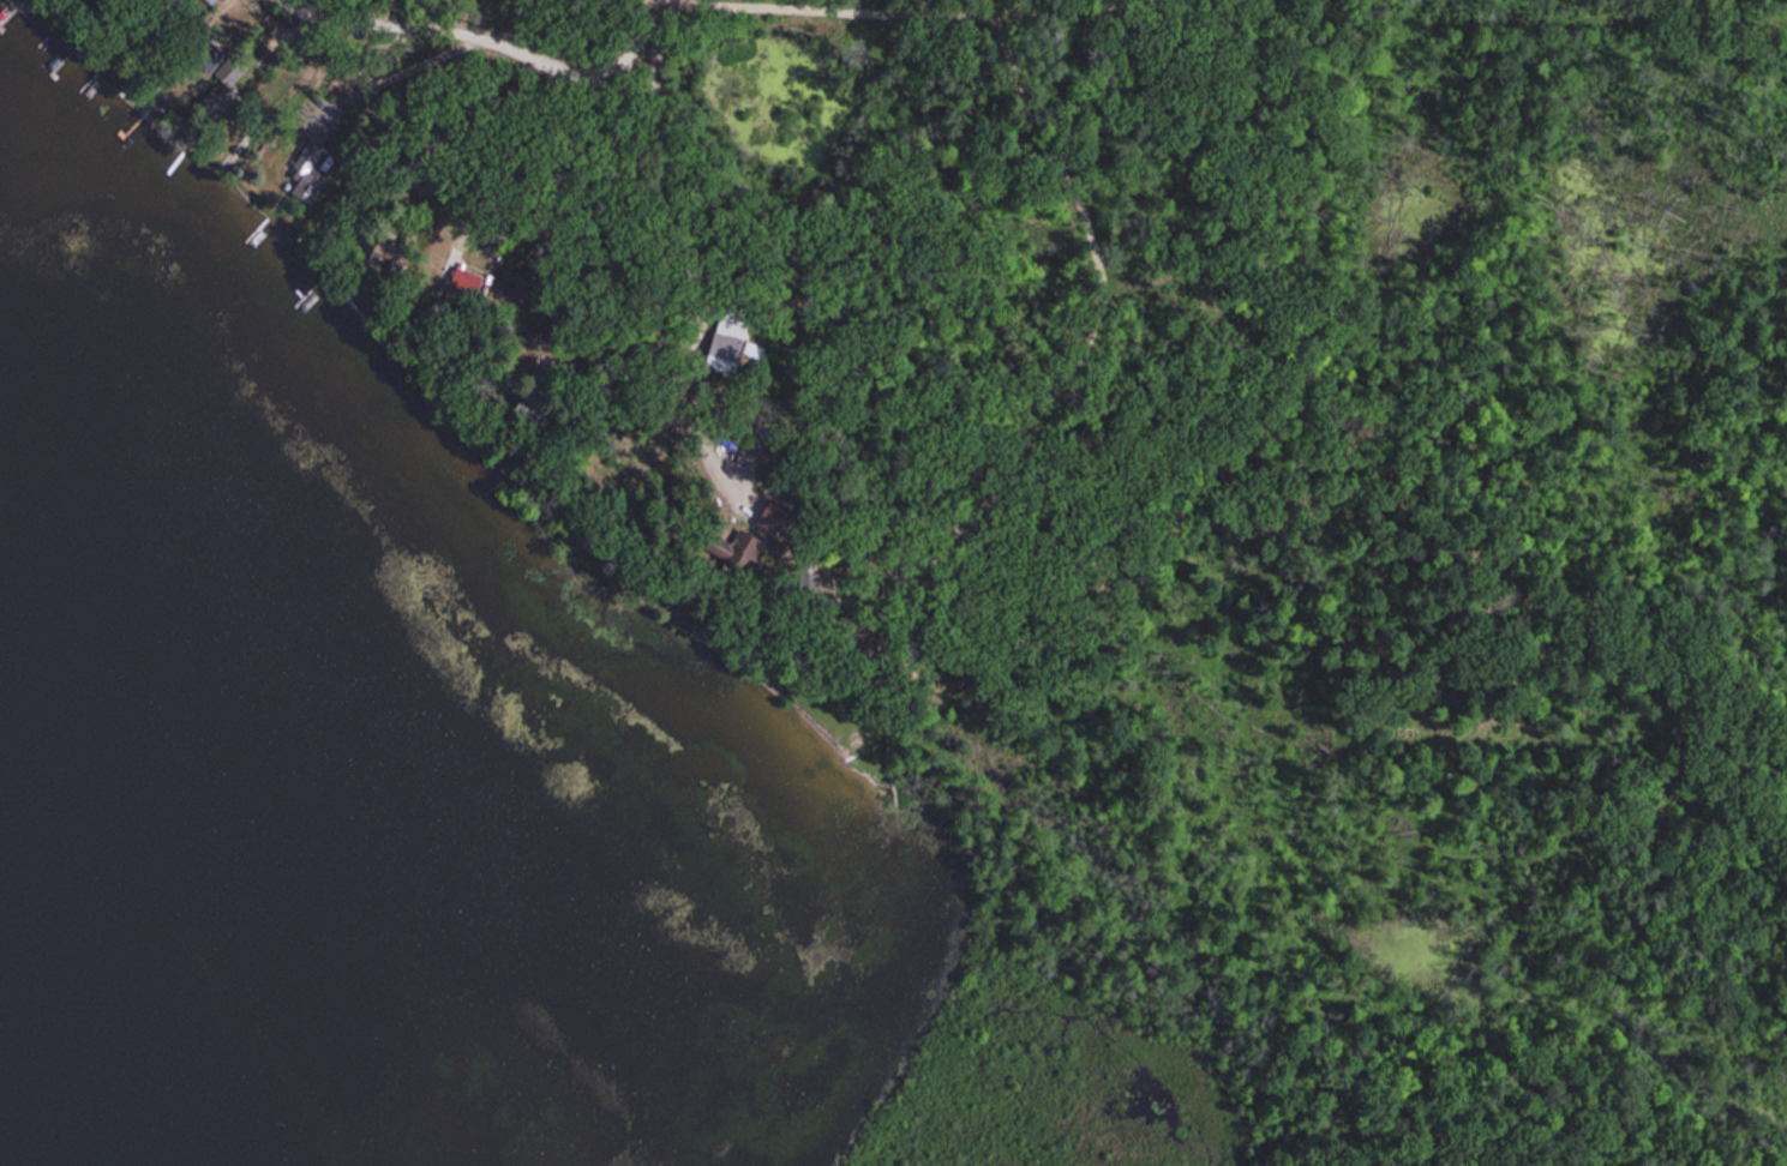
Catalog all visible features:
building: (208, 1)
road: (1227, 5)
road: (480, 38)
building: (221, 85)
road: (698, 248)
building: (454, 270)
building: (726, 344)
building: (528, 407)
building: (806, 583)

